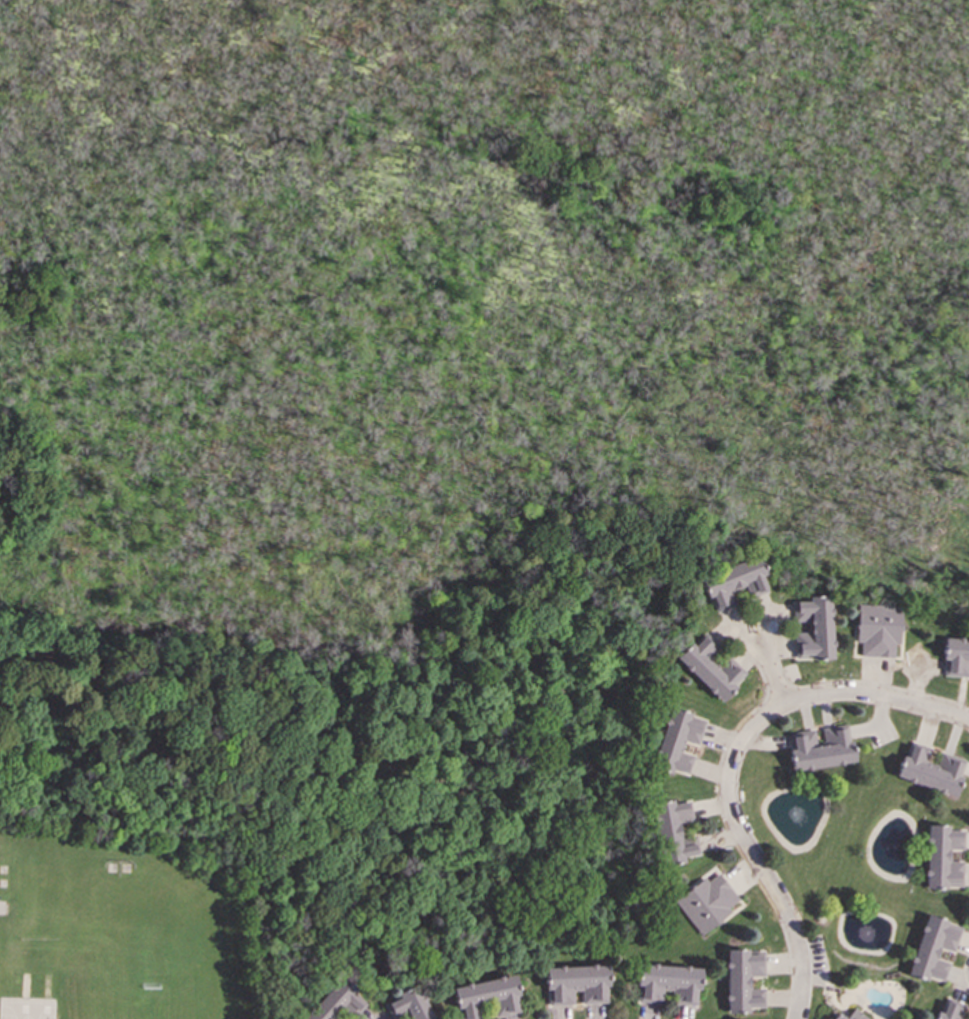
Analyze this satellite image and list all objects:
building: (734, 582)
building: (813, 628)
building: (877, 629)
building: (956, 657)
building: (710, 667)
road: (768, 669)
building: (676, 741)
building: (819, 747)
road: (730, 764)
building: (930, 770)
building: (673, 831)
building: (943, 857)
building: (707, 902)
building: (932, 948)
building: (743, 980)
building: (667, 983)
building: (575, 984)
building: (485, 997)
building: (336, 1001)
building: (408, 1004)
building: (951, 1010)
building: (851, 1015)

